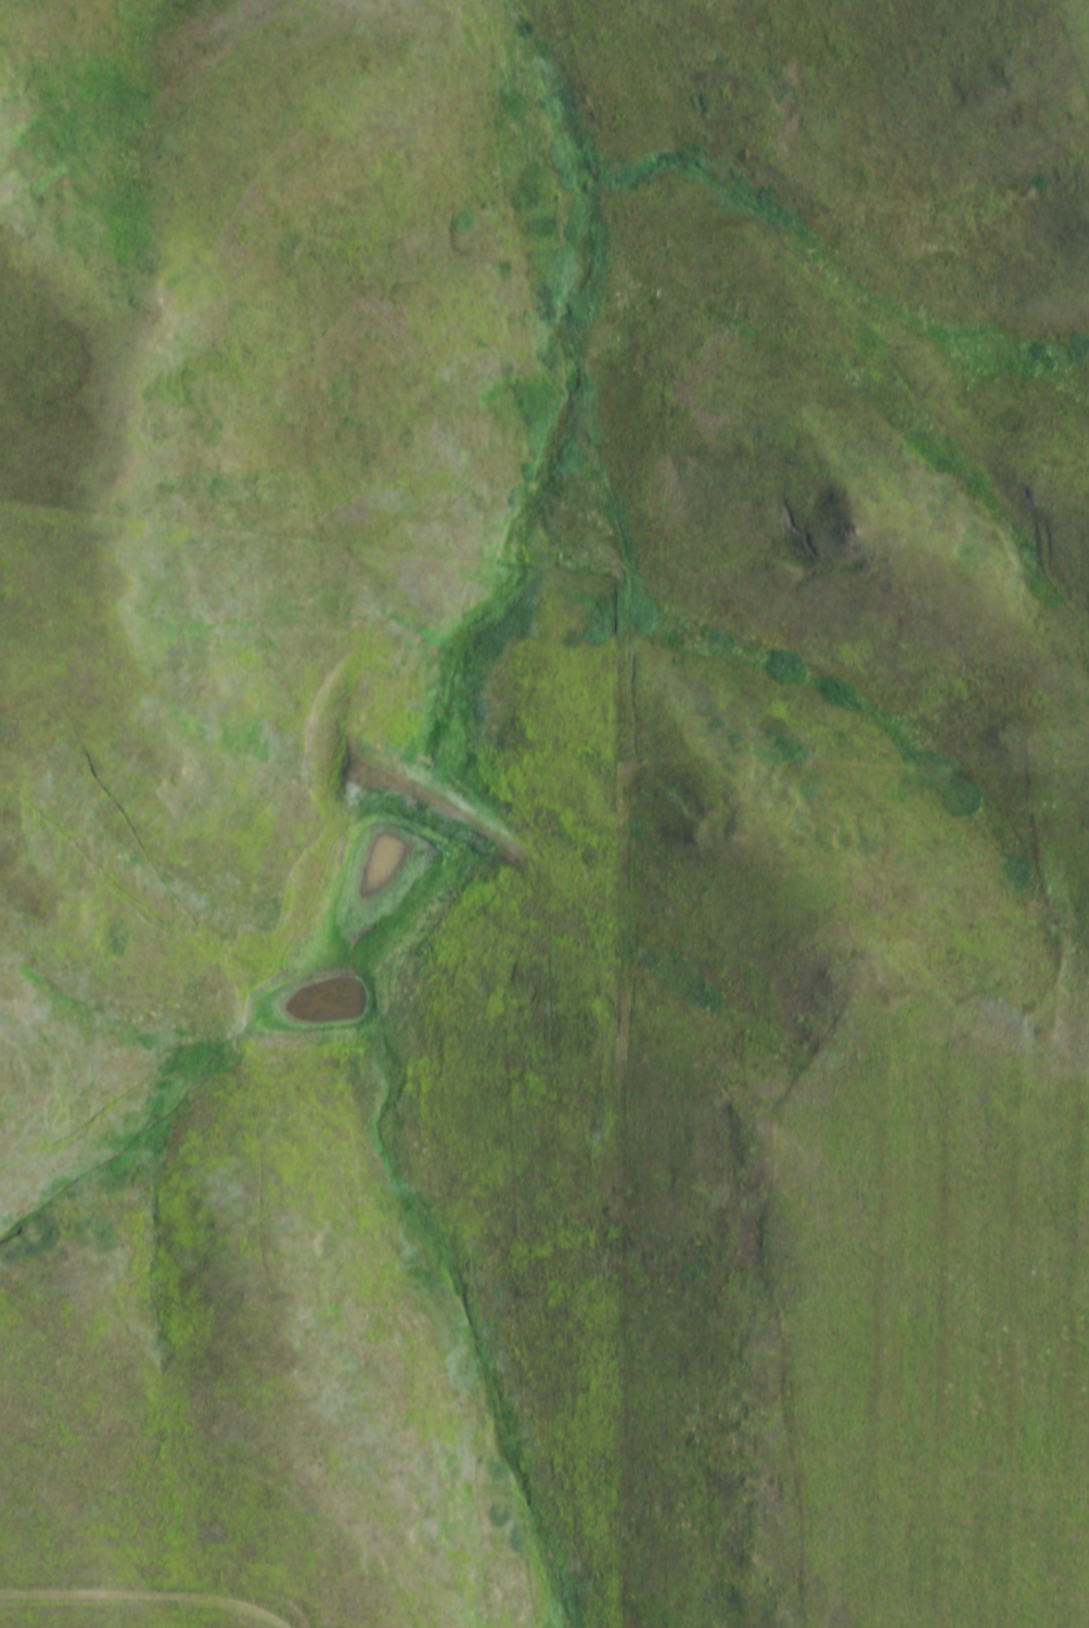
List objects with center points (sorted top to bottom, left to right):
road: (143, 1601)

